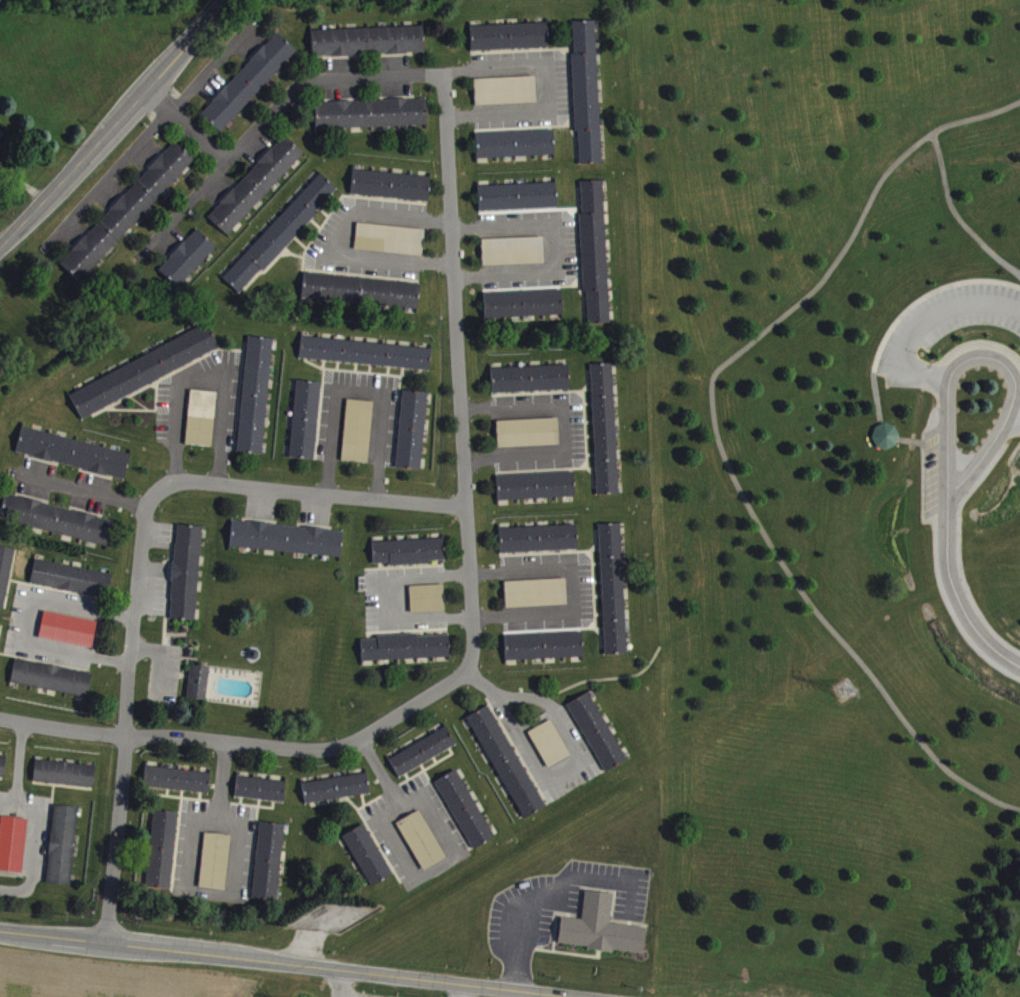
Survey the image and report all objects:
building: (510, 43)
building: (369, 47)
building: (249, 88)
road: (555, 92)
building: (506, 97)
building: (587, 98)
road: (267, 116)
building: (372, 120)
road: (114, 124)
road: (188, 126)
building: (2, 141)
building: (516, 150)
building: (256, 191)
building: (392, 192)
building: (519, 203)
road: (957, 215)
building: (128, 217)
building: (281, 240)
road: (348, 244)
building: (391, 245)
building: (514, 257)
road: (553, 257)
building: (595, 257)
building: (188, 264)
road: (455, 293)
road: (926, 293)
building: (362, 297)
building: (523, 311)
parking lot: (945, 327)
building: (366, 359)
road: (991, 361)
road: (200, 372)
building: (145, 377)
building: (531, 385)
road: (362, 394)
road: (875, 396)
building: (256, 401)
building: (202, 424)
building: (306, 425)
road: (563, 427)
building: (882, 434)
building: (605, 435)
building: (413, 436)
building: (359, 437)
building: (529, 439)
road: (909, 439)
road: (717, 440)
building: (74, 459)
park: (831, 484)
road: (85, 488)
building: (537, 492)
building: (57, 526)
building: (288, 545)
building: (539, 545)
building: (410, 558)
building: (6, 579)
building: (187, 579)
building: (72, 585)
road: (473, 592)
building: (614, 595)
road: (956, 595)
road: (580, 596)
road: (392, 598)
building: (537, 599)
building: (428, 605)
road: (27, 622)
building: (0, 630)
building: (69, 636)
road: (668, 641)
building: (545, 652)
building: (407, 653)
building: (52, 684)
building: (199, 689)
power tower: (841, 693)
road: (62, 732)
building: (598, 738)
building: (550, 750)
building: (423, 758)
road: (17, 762)
building: (507, 768)
road: (553, 769)
building: (3, 772)
building: (65, 780)
building: (178, 786)
building: (337, 794)
building: (261, 795)
road: (6, 800)
building: (465, 816)
road: (450, 846)
building: (422, 847)
road: (31, 849)
building: (13, 850)
building: (63, 852)
building: (162, 856)
building: (368, 861)
building: (216, 867)
building: (269, 868)
road: (187, 873)
building: (601, 934)
road: (289, 962)
road: (337, 982)
park: (321, 988)
road: (466, 991)
parking lot: (352, 994)

